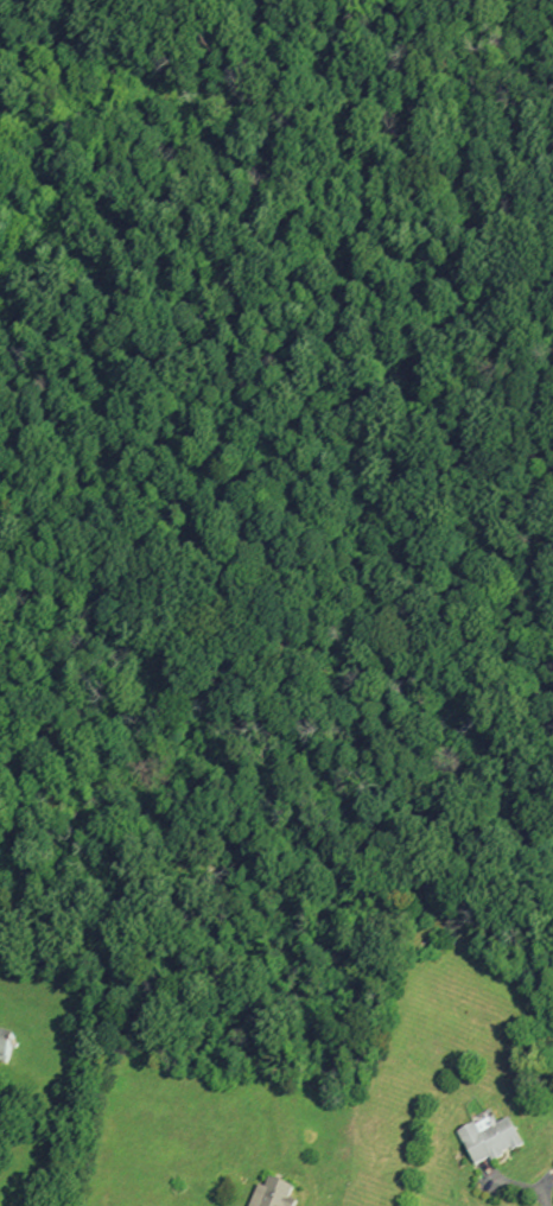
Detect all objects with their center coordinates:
building: (7, 1045)
building: (489, 1138)
road: (523, 1186)
building: (275, 1194)

